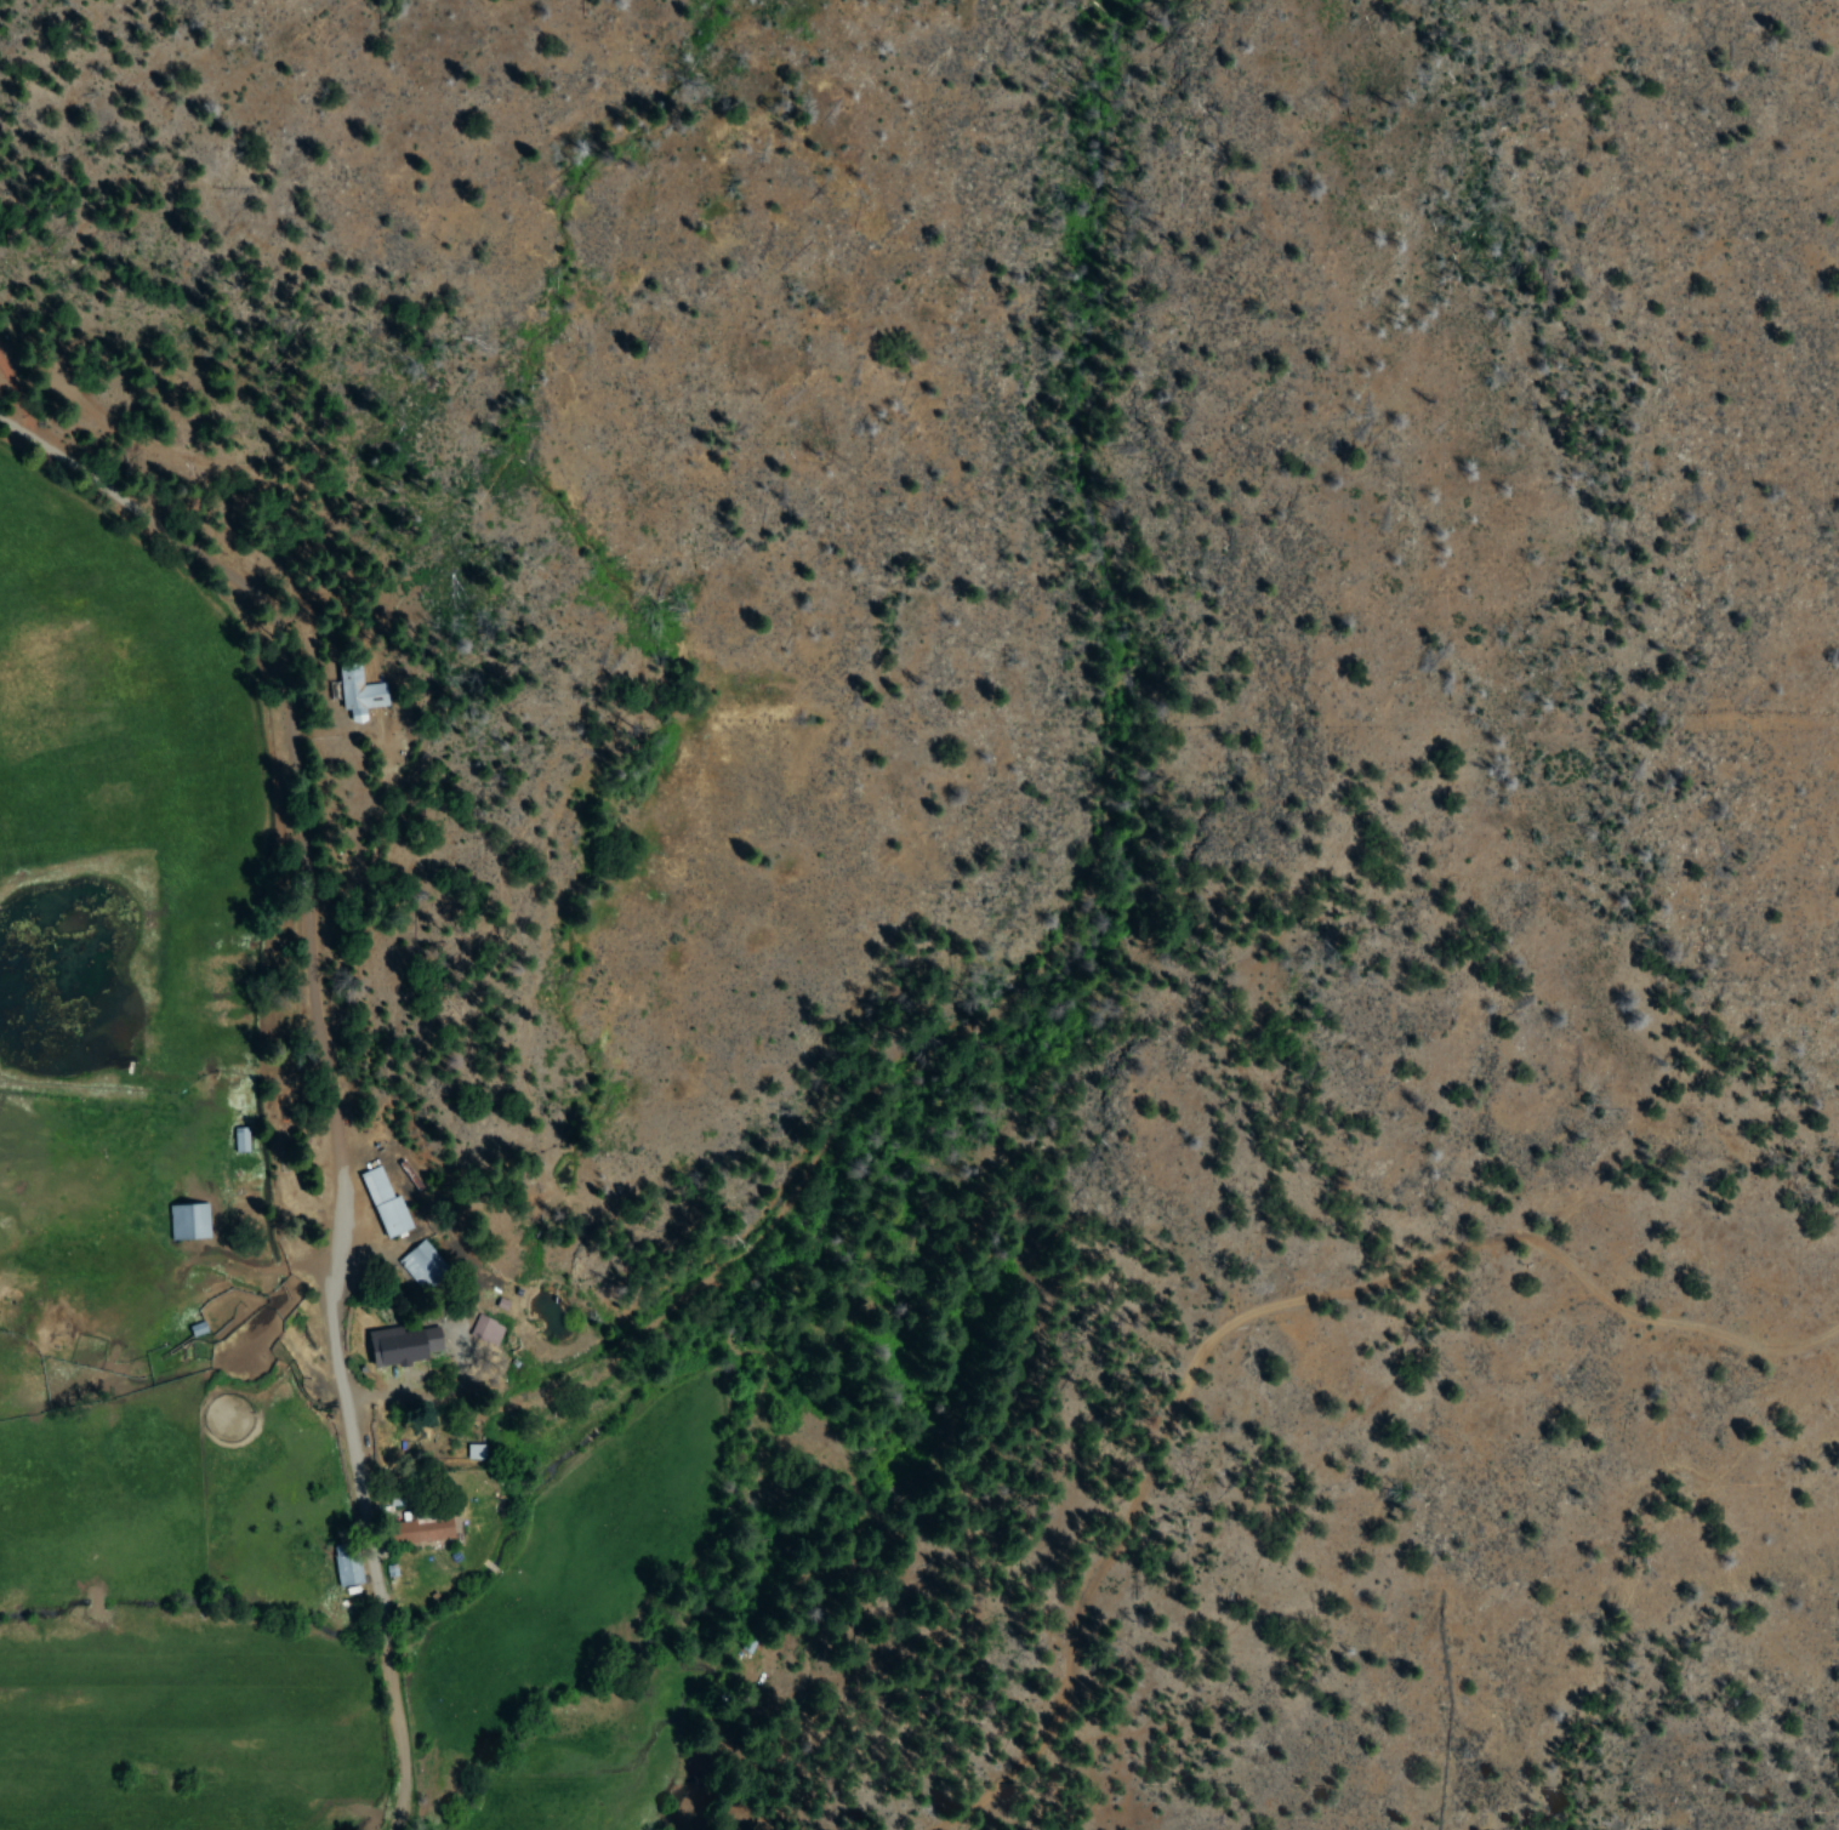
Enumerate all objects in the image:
road: (320, 910)
road: (1277, 1288)

